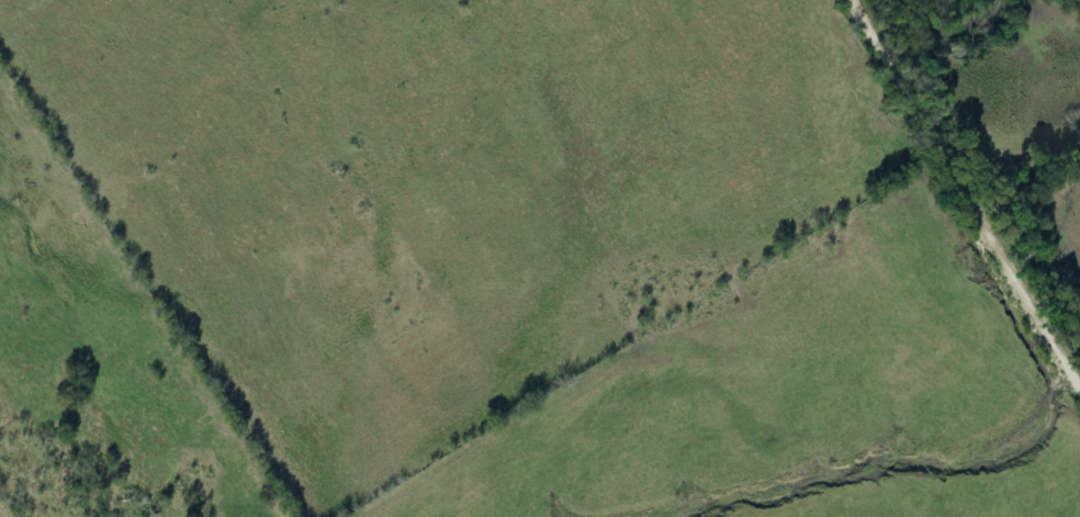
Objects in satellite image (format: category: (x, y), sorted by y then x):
road: (968, 189)

